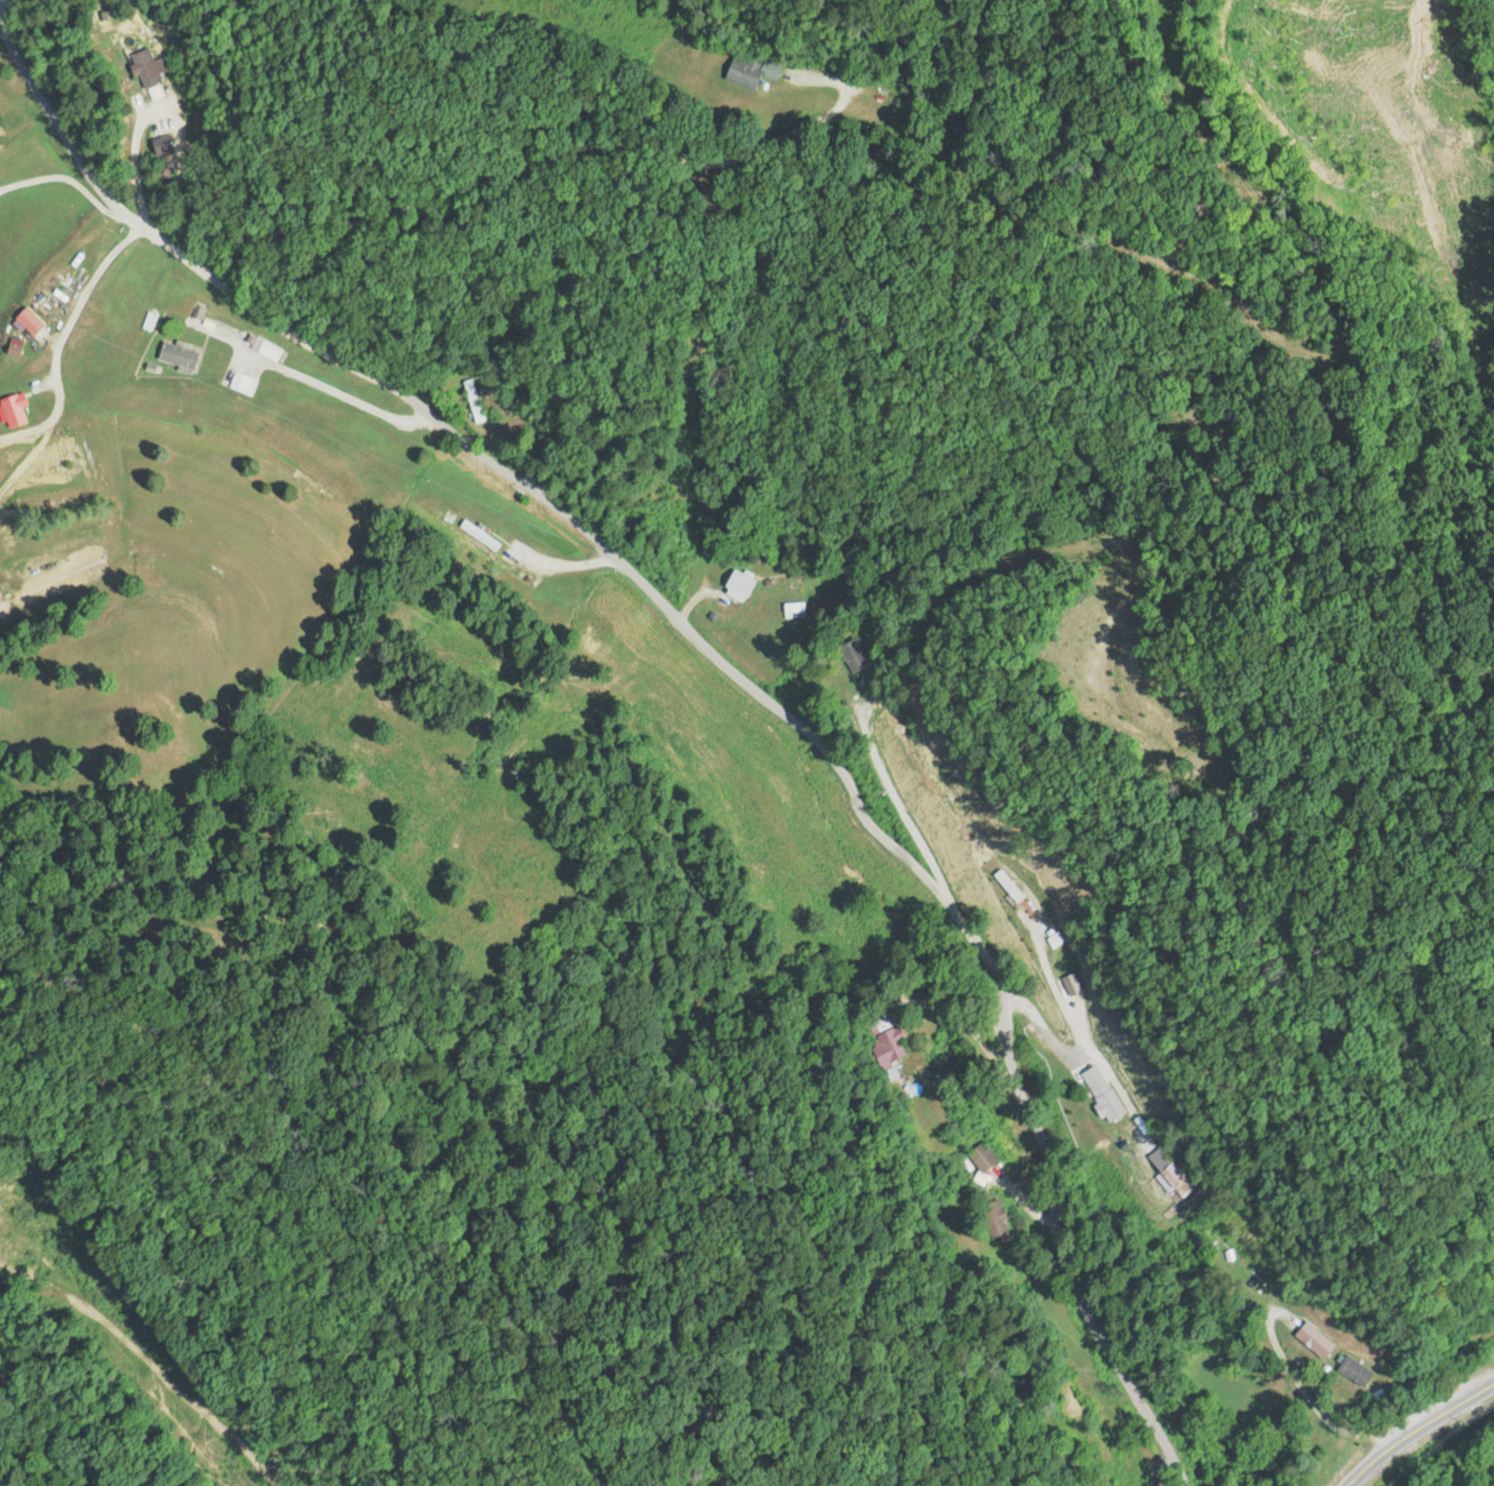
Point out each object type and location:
building: (146, 67)
building: (749, 70)
building: (160, 144)
road: (535, 157)
building: (268, 350)
building: (10, 353)
building: (176, 356)
building: (243, 383)
building: (473, 400)
building: (13, 409)
building: (483, 539)
building: (738, 582)
building: (794, 609)
building: (854, 654)
road: (718, 659)
road: (898, 794)
building: (1006, 885)
building: (888, 1046)
building: (1100, 1093)
building: (980, 1158)
building: (1165, 1170)
building: (994, 1220)
building: (1312, 1340)
building: (1350, 1371)
road: (1291, 1375)
road: (1415, 1428)

